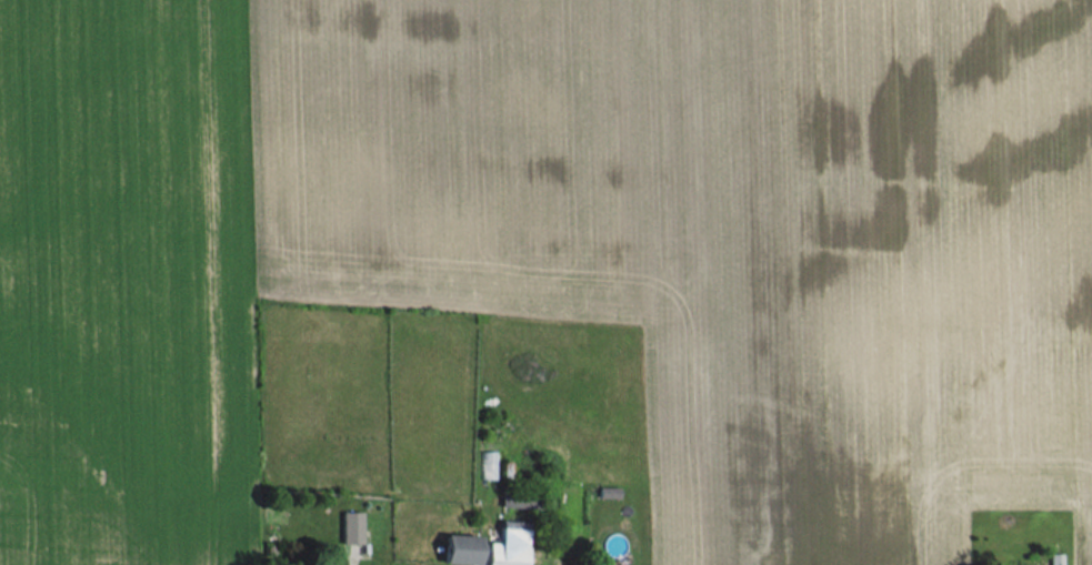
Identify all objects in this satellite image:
building: (519, 500)
building: (351, 527)
building: (509, 544)
building: (460, 548)
building: (1055, 558)

